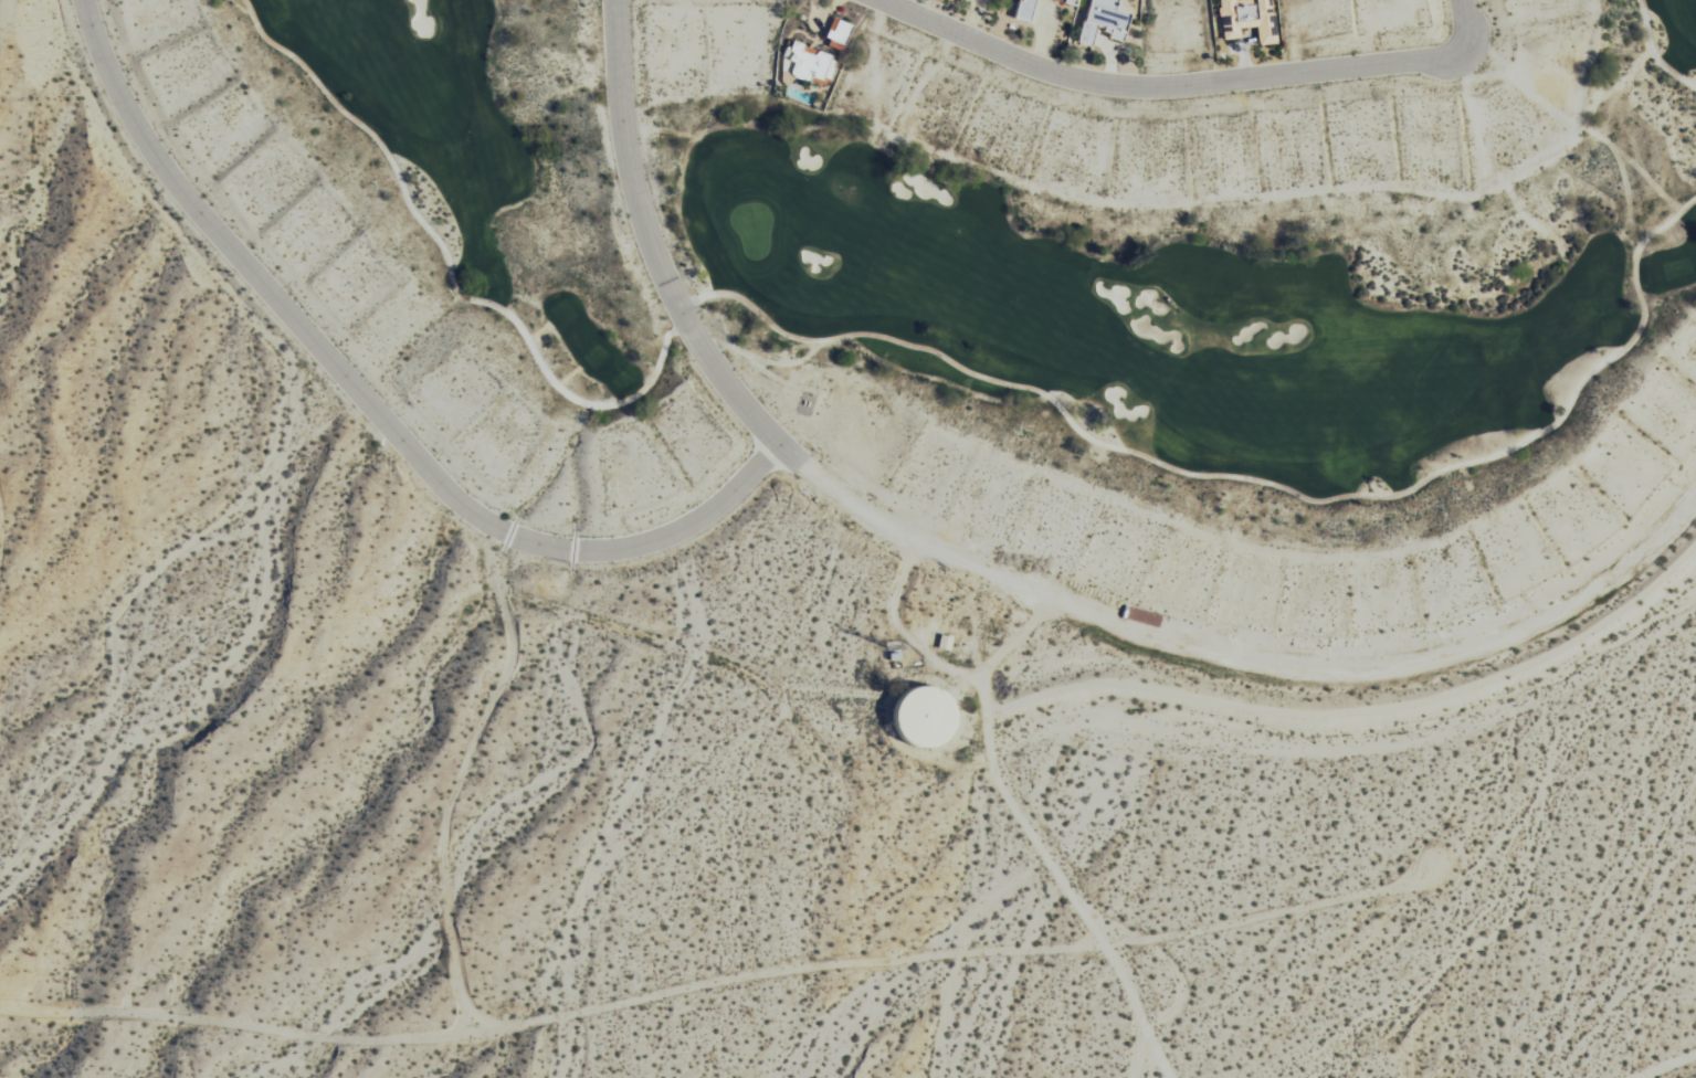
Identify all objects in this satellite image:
building: (1071, 1)
building: (1020, 10)
building: (1245, 18)
building: (1099, 21)
building: (836, 31)
road: (1654, 52)
building: (808, 63)
road: (1184, 85)
park: (750, 235)
park: (1020, 273)
road: (369, 404)
road: (1246, 485)
building: (919, 711)

